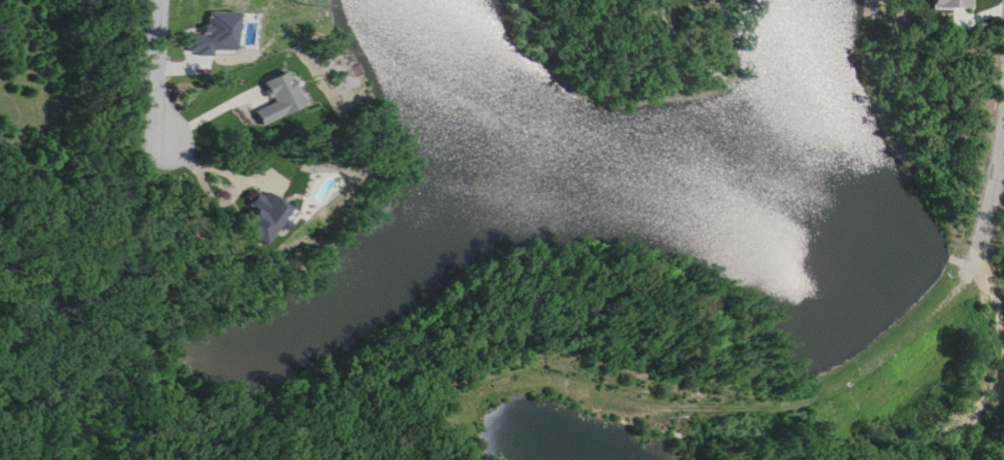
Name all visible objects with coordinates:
building: (212, 33)
road: (152, 72)
building: (277, 96)
road: (209, 195)
building: (268, 216)
road: (790, 399)

